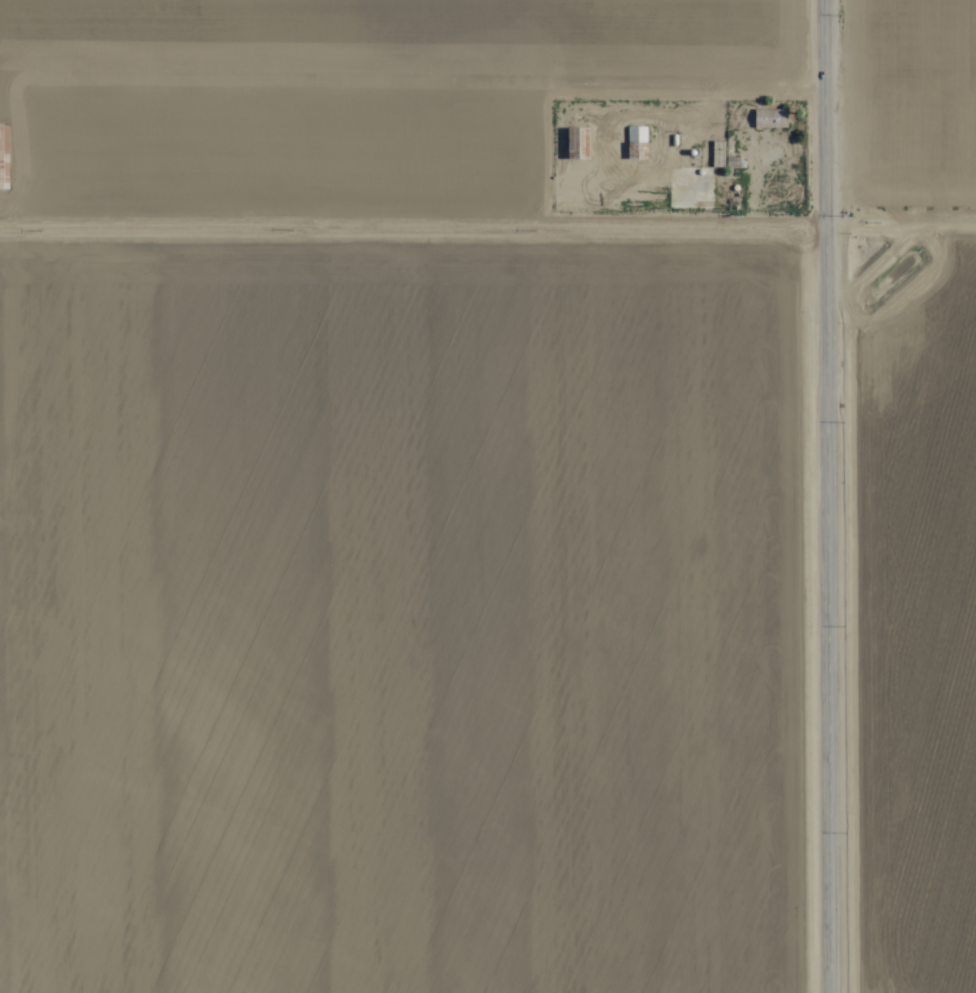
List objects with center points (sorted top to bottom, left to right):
building: (770, 118)
road: (414, 202)
crop: (488, 496)
road: (829, 496)

